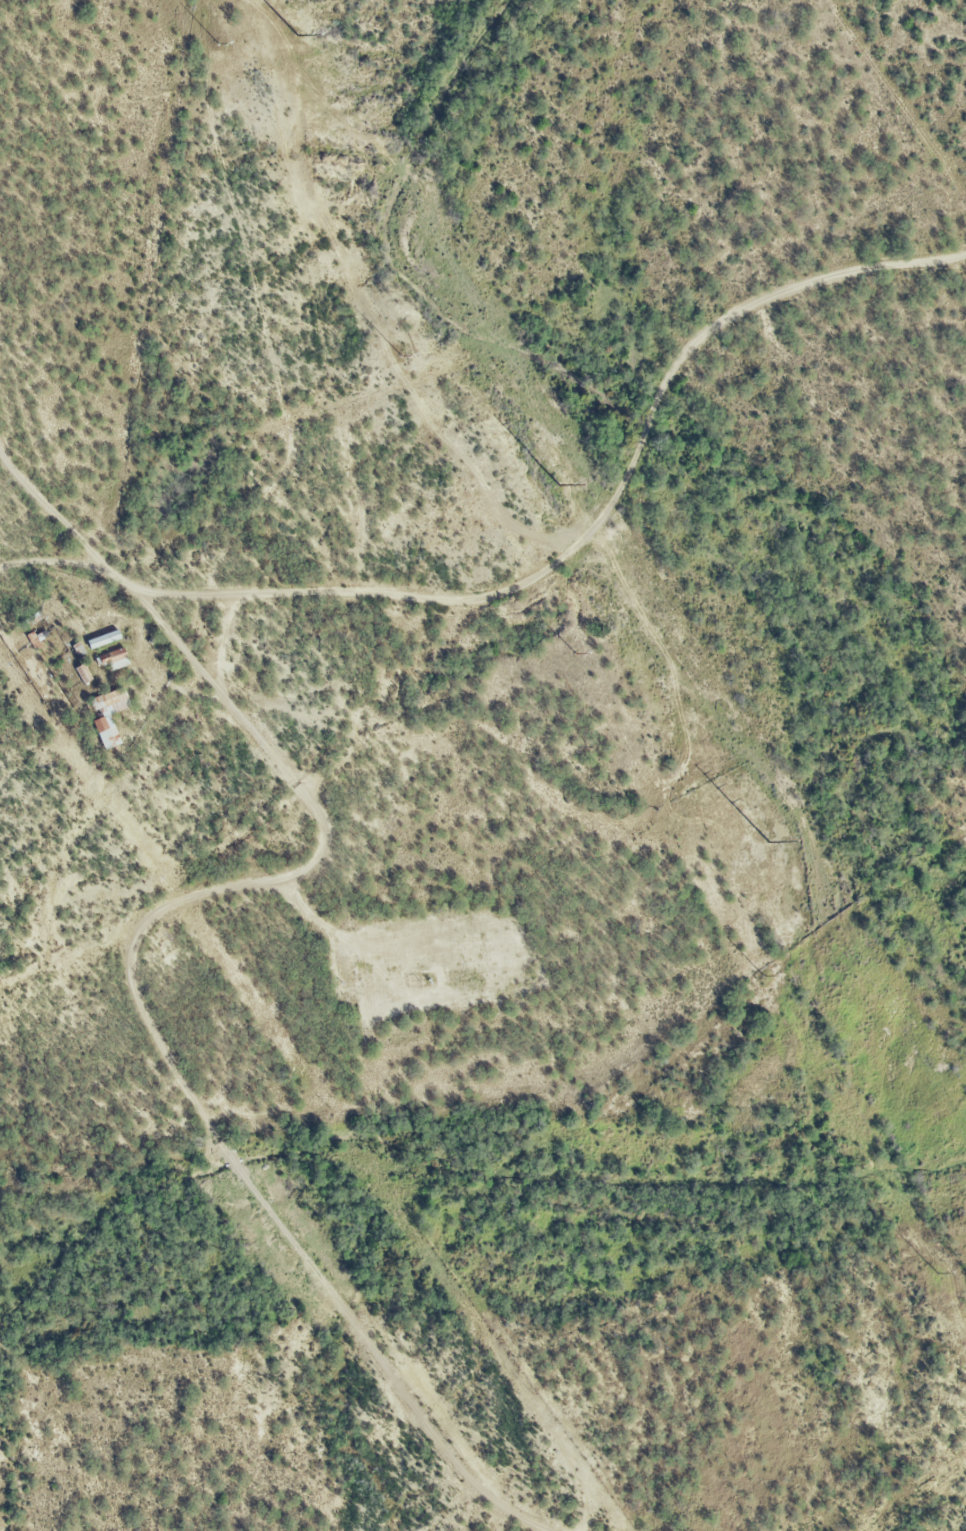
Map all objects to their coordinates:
power tower: (290, 34)
power tower: (214, 44)
power tower: (395, 356)
road: (169, 371)
power tower: (552, 484)
road: (604, 521)
building: (107, 636)
power tower: (572, 654)
building: (117, 655)
power tower: (763, 844)
power tower: (760, 976)
power tower: (935, 1274)

